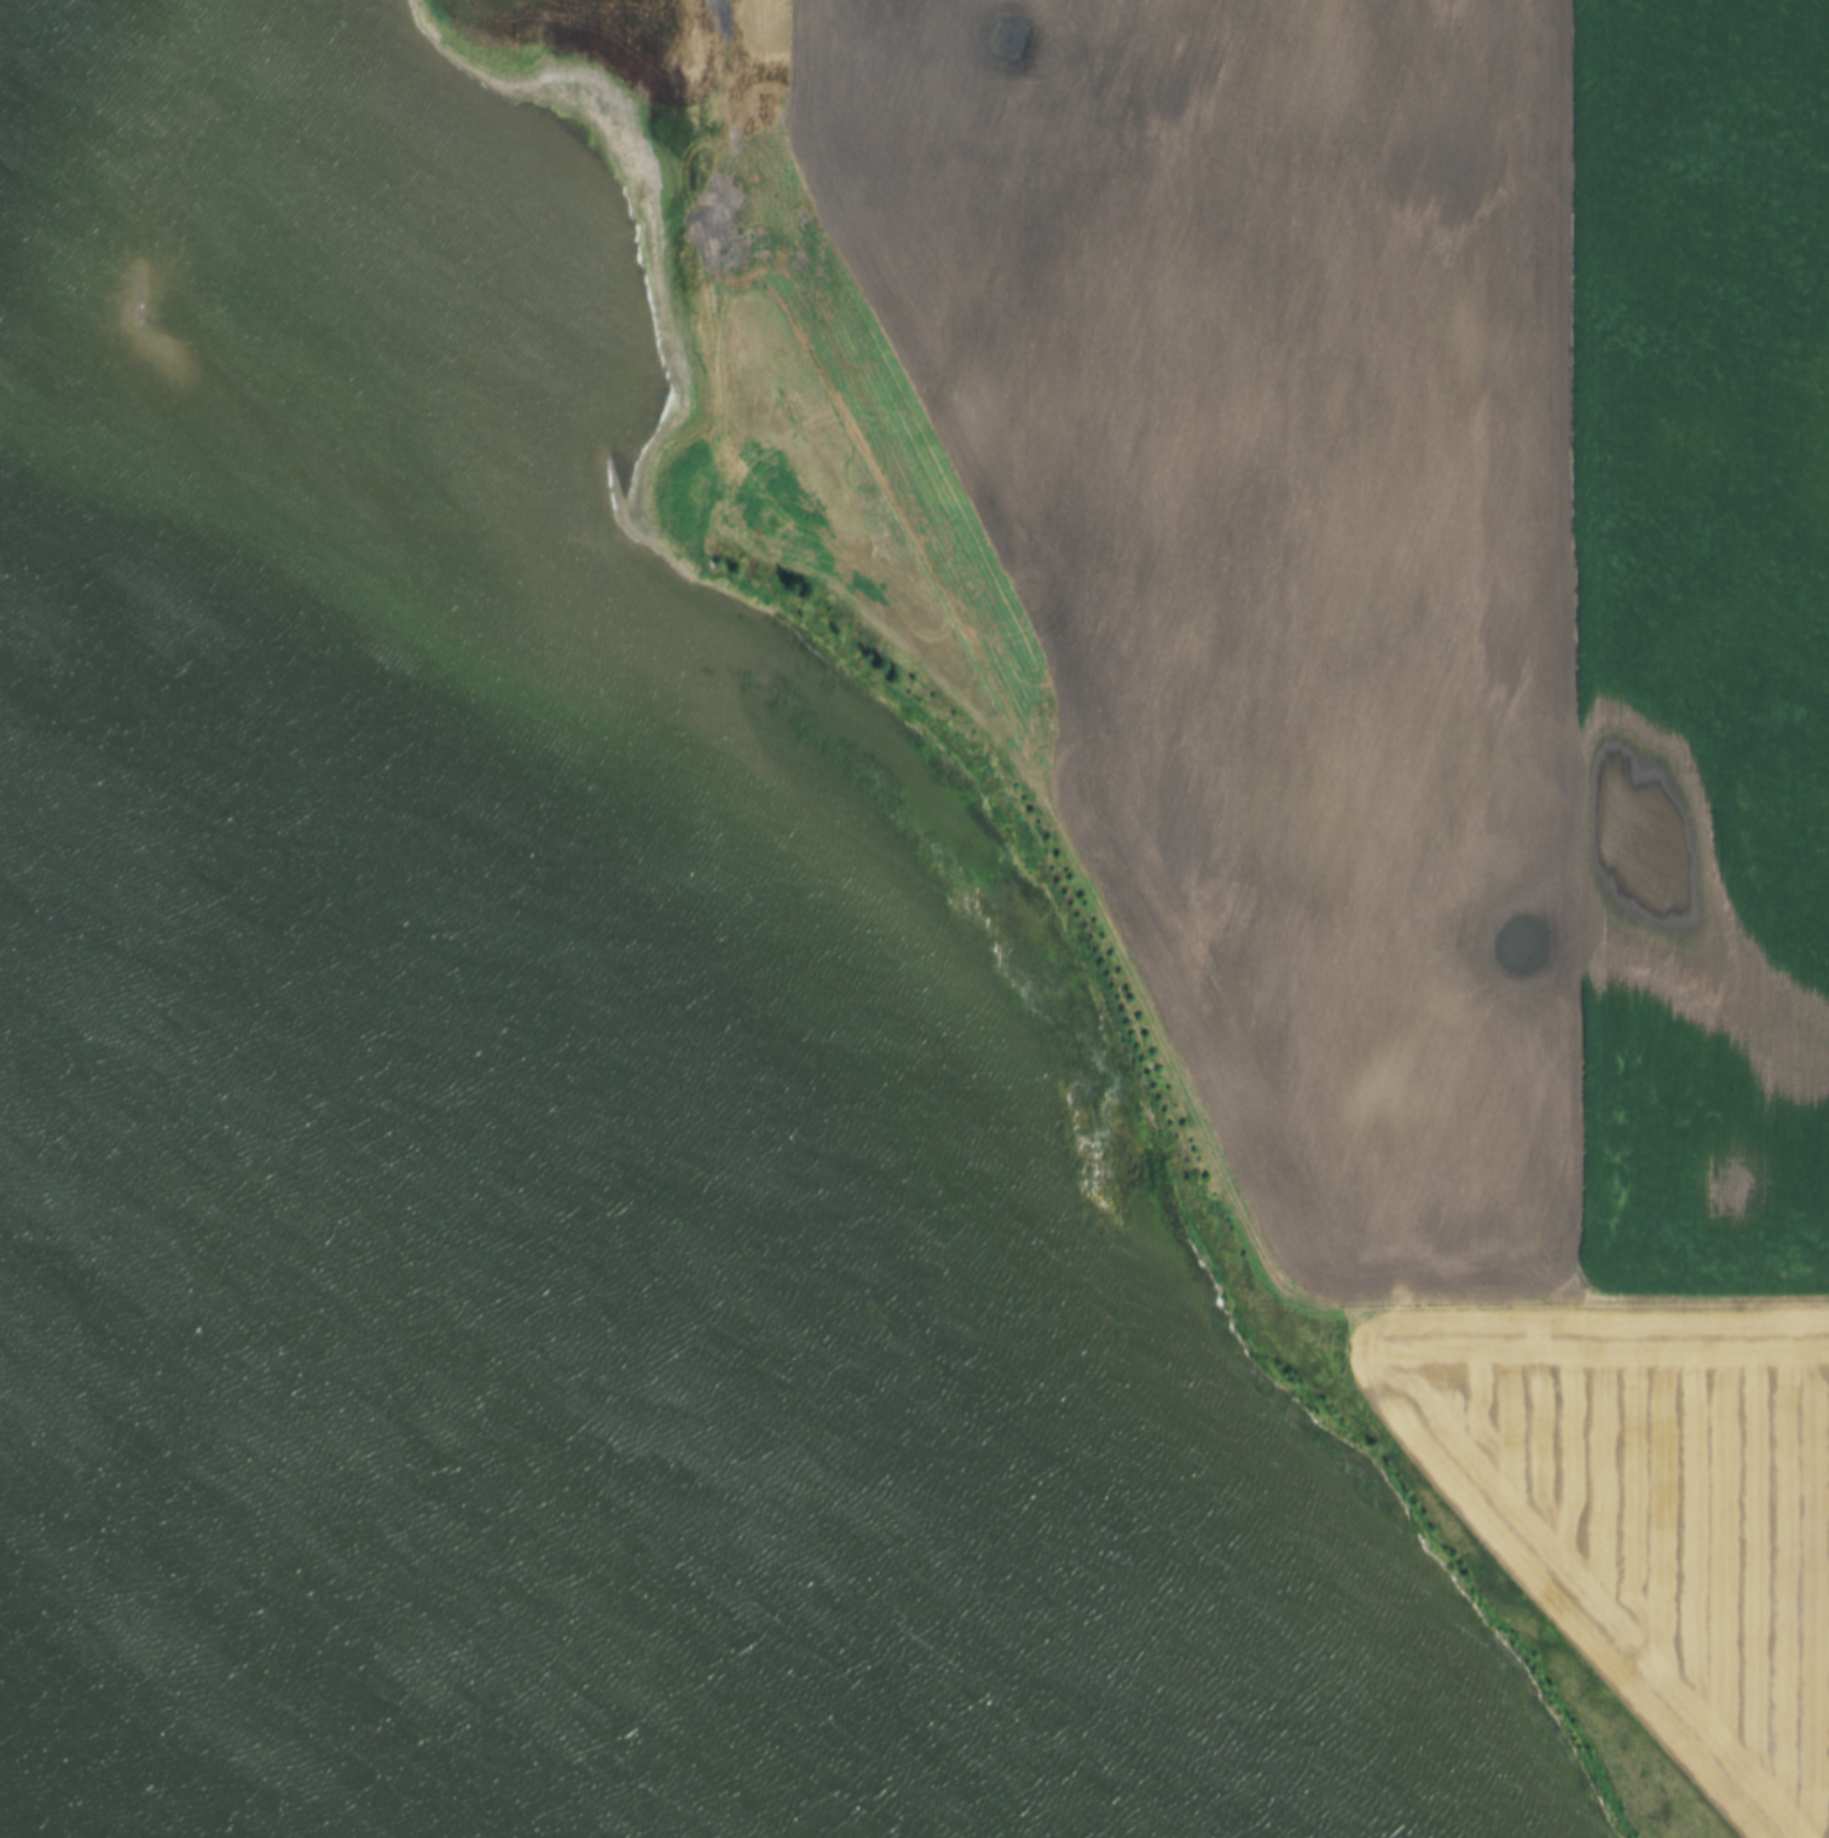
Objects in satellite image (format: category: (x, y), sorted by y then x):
road: (1570, 1295)

